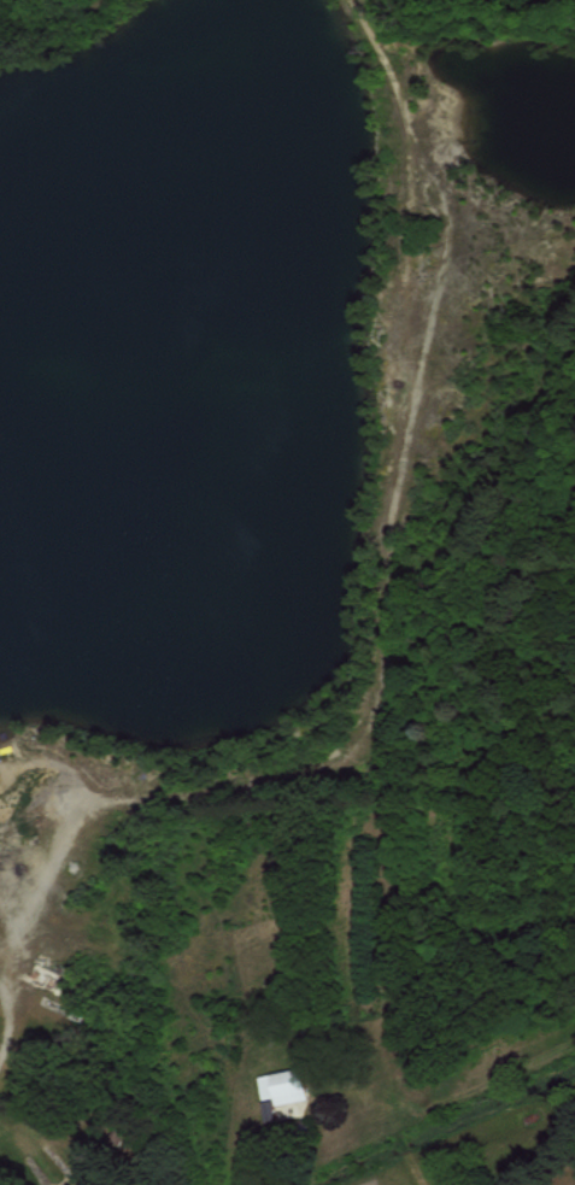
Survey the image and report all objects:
road: (7, 1017)
building: (281, 1085)
building: (64, 1184)

